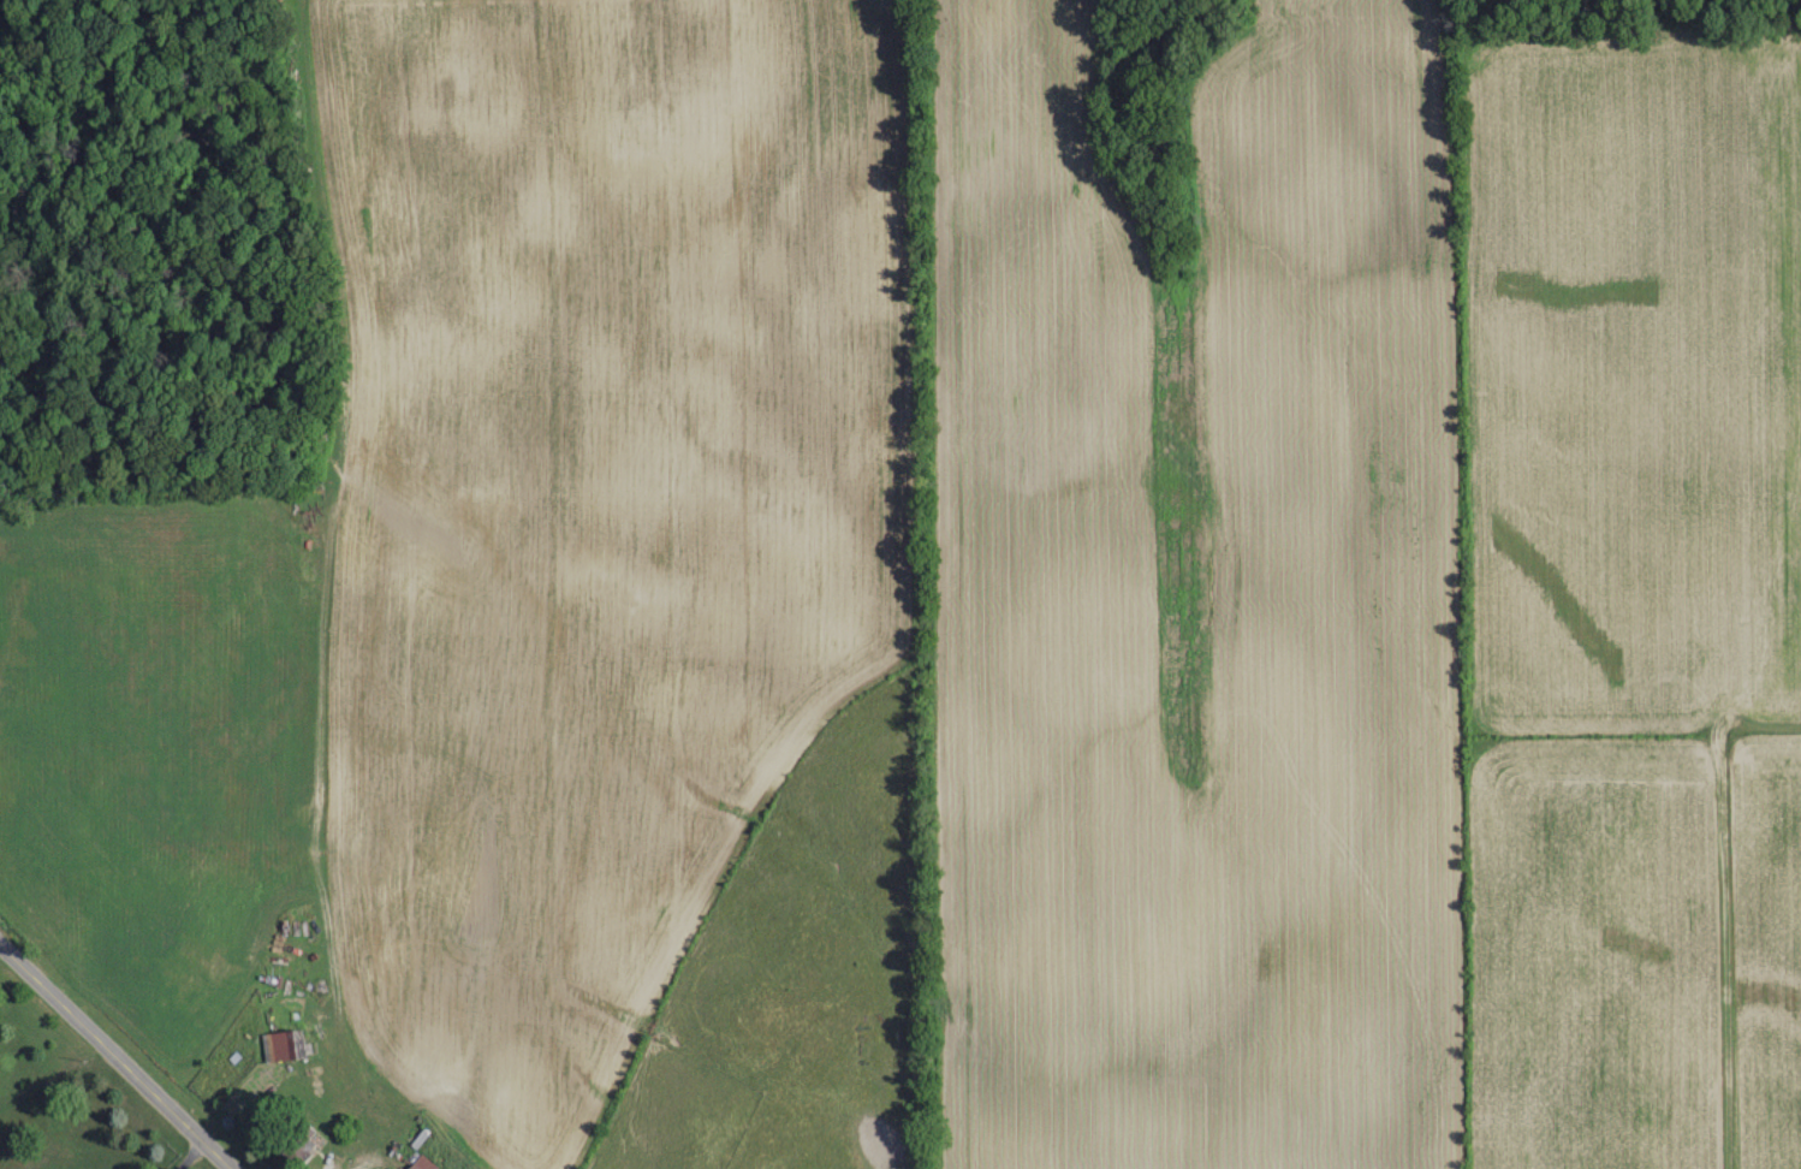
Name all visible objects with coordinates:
building: (287, 1044)
road: (120, 1054)
building: (296, 1141)
road: (195, 1153)
building: (418, 1162)

